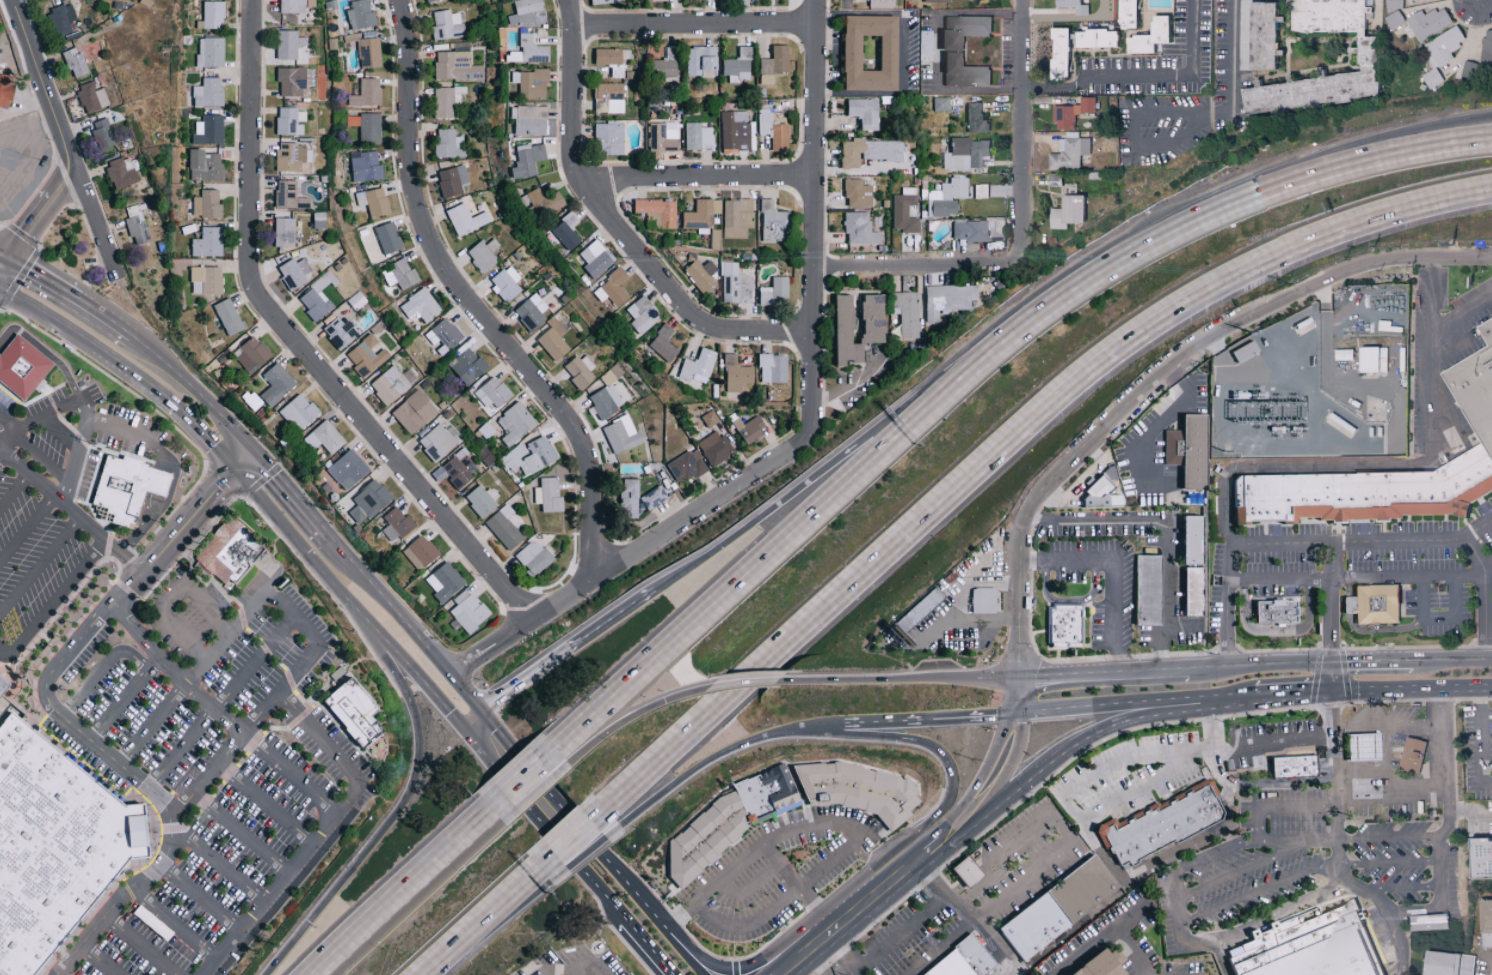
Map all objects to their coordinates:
building: (431, 0)
building: (936, 0)
road: (1417, 0)
building: (604, 1)
building: (869, 1)
building: (311, 3)
building: (293, 6)
building: (1072, 6)
building: (527, 13)
building: (361, 14)
building: (1125, 14)
building: (212, 15)
building: (63, 18)
building: (1394, 20)
building: (1428, 23)
building: (446, 24)
road: (693, 25)
building: (961, 31)
building: (0, 33)
building: (1256, 35)
building: (1147, 38)
building: (1093, 39)
building: (289, 44)
building: (1443, 46)
building: (533, 49)
building: (1486, 49)
road: (936, 51)
building: (212, 52)
building: (369, 53)
building: (850, 53)
building: (869, 53)
road: (902, 53)
building: (1057, 53)
building: (1364, 54)
building: (611, 60)
building: (703, 61)
building: (75, 62)
building: (666, 64)
building: (775, 64)
building: (740, 66)
building: (456, 67)
road: (1232, 69)
building: (1466, 71)
building: (961, 72)
road: (1141, 73)
building: (1431, 78)
building: (293, 81)
building: (531, 84)
building: (6, 90)
building: (366, 92)
building: (209, 93)
building: (609, 97)
building: (92, 98)
building: (448, 100)
building: (862, 110)
building: (1071, 113)
building: (974, 118)
building: (530, 120)
building: (291, 121)
building: (371, 127)
building: (210, 130)
building: (773, 130)
building: (103, 133)
building: (735, 133)
road: (25, 134)
road: (63, 137)
building: (663, 137)
building: (699, 137)
road: (1133, 137)
building: (611, 138)
road: (1395, 140)
building: (450, 144)
building: (866, 151)
road: (1396, 152)
building: (965, 153)
building: (1068, 154)
building: (293, 157)
building: (528, 158)
building: (206, 166)
building: (367, 166)
building: (121, 175)
road: (696, 179)
building: (453, 181)
building: (979, 191)
building: (856, 193)
building: (286, 194)
building: (945, 197)
building: (374, 201)
building: (545, 202)
building: (304, 203)
road: (47, 205)
building: (208, 205)
building: (902, 211)
building: (1065, 212)
building: (658, 213)
building: (701, 214)
road: (814, 218)
building: (320, 220)
building: (466, 220)
building: (774, 222)
road: (614, 228)
building: (137, 229)
building: (857, 229)
building: (567, 231)
building: (285, 232)
building: (980, 232)
road: (9, 238)
building: (388, 238)
road: (1022, 238)
building: (209, 242)
road: (1144, 247)
road: (11, 248)
road: (2, 252)
traffic signals: (5, 254)
building: (484, 255)
road: (2, 257)
building: (596, 259)
road: (43, 272)
building: (293, 275)
building: (400, 275)
building: (702, 276)
building: (207, 280)
building: (507, 283)
building: (735, 285)
building: (613, 288)
building: (776, 292)
building: (317, 298)
building: (944, 298)
road: (468, 299)
building: (356, 300)
building: (418, 307)
building: (532, 312)
building: (903, 312)
road: (105, 313)
road: (1462, 314)
building: (643, 315)
building: (229, 317)
building: (866, 317)
road: (44, 319)
building: (341, 332)
building: (443, 336)
building: (555, 339)
road: (1229, 339)
road: (297, 343)
building: (664, 344)
road: (1454, 347)
road: (45, 350)
building: (1241, 350)
building: (1341, 354)
building: (252, 355)
building: (366, 356)
building: (1367, 358)
building: (468, 366)
building: (22, 367)
building: (699, 367)
building: (773, 368)
road: (1433, 368)
road: (121, 370)
building: (581, 371)
building: (737, 374)
power substation: (1317, 383)
building: (277, 384)
building: (389, 385)
road: (853, 385)
road: (196, 390)
building: (494, 393)
building: (608, 394)
building: (1477, 410)
building: (414, 411)
building: (299, 412)
road: (84, 413)
building: (516, 423)
building: (752, 430)
road: (197, 431)
road: (1149, 432)
road: (60, 434)
building: (622, 435)
building: (324, 437)
road: (9, 439)
road: (1011, 439)
building: (438, 442)
building: (713, 447)
building: (1184, 448)
road: (32, 452)
traffic signals: (257, 452)
building: (530, 456)
road: (74, 461)
road: (245, 463)
road: (826, 464)
building: (686, 467)
road: (1245, 467)
building: (459, 468)
building: (348, 470)
traffic signals: (234, 475)
road: (1086, 487)
building: (123, 488)
road: (14, 491)
building: (1097, 491)
road: (294, 494)
building: (548, 495)
building: (629, 497)
building: (654, 497)
building: (482, 500)
building: (370, 501)
road: (154, 502)
road: (71, 512)
road: (1034, 517)
road: (1165, 523)
building: (397, 524)
building: (506, 527)
road: (26, 528)
road: (1364, 540)
building: (1190, 541)
road: (775, 545)
building: (421, 553)
road: (629, 553)
road: (1475, 554)
building: (225, 556)
building: (534, 556)
road: (1035, 561)
road: (39, 566)
road: (1115, 568)
road: (997, 580)
road: (1361, 581)
building: (445, 582)
road: (968, 588)
building: (1145, 591)
building: (1192, 593)
road: (56, 599)
road: (172, 599)
road: (347, 600)
building: (980, 600)
road: (1022, 600)
road: (390, 603)
building: (1373, 604)
building: (915, 609)
building: (468, 611)
building: (1277, 611)
road: (620, 612)
road: (294, 614)
road: (1486, 614)
road: (1333, 616)
road: (963, 620)
road: (1441, 622)
building: (1063, 626)
road: (1184, 626)
road: (1276, 630)
road: (1227, 652)
road: (3, 654)
road: (1163, 657)
road: (1120, 658)
road: (1452, 660)
road: (1374, 662)
traffic signals: (1334, 663)
road: (1262, 664)
road: (101, 668)
road: (174, 671)
road: (532, 673)
road: (1106, 673)
traffic signals: (1021, 678)
road: (899, 680)
building: (0, 681)
road: (743, 683)
road: (464, 690)
road: (1413, 690)
traffic signals: (1335, 691)
road: (1296, 693)
road: (1234, 696)
road: (1480, 698)
road: (126, 699)
road: (221, 700)
road: (1107, 705)
building: (4, 706)
road: (1370, 708)
traffic signals: (480, 710)
traffic signals: (1026, 713)
building: (353, 714)
traffic signals: (1004, 714)
road: (472, 716)
road: (635, 716)
road: (955, 717)
traffic signals: (464, 722)
road: (874, 722)
road: (1390, 724)
road: (73, 725)
road: (814, 726)
road: (910, 742)
road: (1074, 742)
building: (1362, 747)
road: (1481, 747)
road: (1194, 750)
road: (991, 752)
building: (1414, 756)
road: (1014, 761)
road: (1387, 763)
building: (1292, 767)
road: (698, 769)
road: (290, 774)
road: (523, 779)
road: (1284, 782)
road: (1487, 786)
building: (856, 789)
road: (535, 792)
road: (526, 796)
road: (1125, 798)
road: (1352, 802)
road: (265, 804)
building: (785, 807)
road: (396, 812)
road: (1470, 814)
building: (724, 821)
road: (815, 823)
road: (1259, 823)
building: (1157, 824)
road: (583, 832)
road: (241, 833)
road: (321, 833)
road: (950, 833)
road: (1390, 837)
road: (574, 839)
road: (1200, 839)
road: (1300, 840)
building: (51, 843)
road: (1071, 844)
road: (929, 851)
road: (1217, 852)
road: (587, 855)
building: (1478, 857)
road: (219, 864)
road: (1390, 864)
road: (1242, 869)
road: (437, 870)
building: (961, 870)
road: (715, 885)
road: (750, 885)
road: (799, 887)
road: (1405, 889)
road: (1260, 890)
road: (402, 892)
road: (609, 894)
road: (201, 897)
road: (782, 899)
building: (1057, 906)
road: (1179, 907)
road: (861, 909)
road: (1402, 915)
road: (1270, 917)
road: (484, 921)
road: (968, 923)
building: (1484, 923)
road: (174, 925)
road: (489, 929)
road: (899, 932)
road: (1098, 938)
road: (140, 945)
road: (1396, 945)
road: (653, 946)
building: (1303, 946)
road: (1129, 950)
road: (844, 954)
building: (970, 954)
road: (1221, 957)
road: (100, 960)
road: (824, 962)
building: (1446, 963)
road: (570, 964)
road: (695, 965)
road: (745, 965)
road: (794, 965)
building: (1090, 965)
building: (946, 966)

